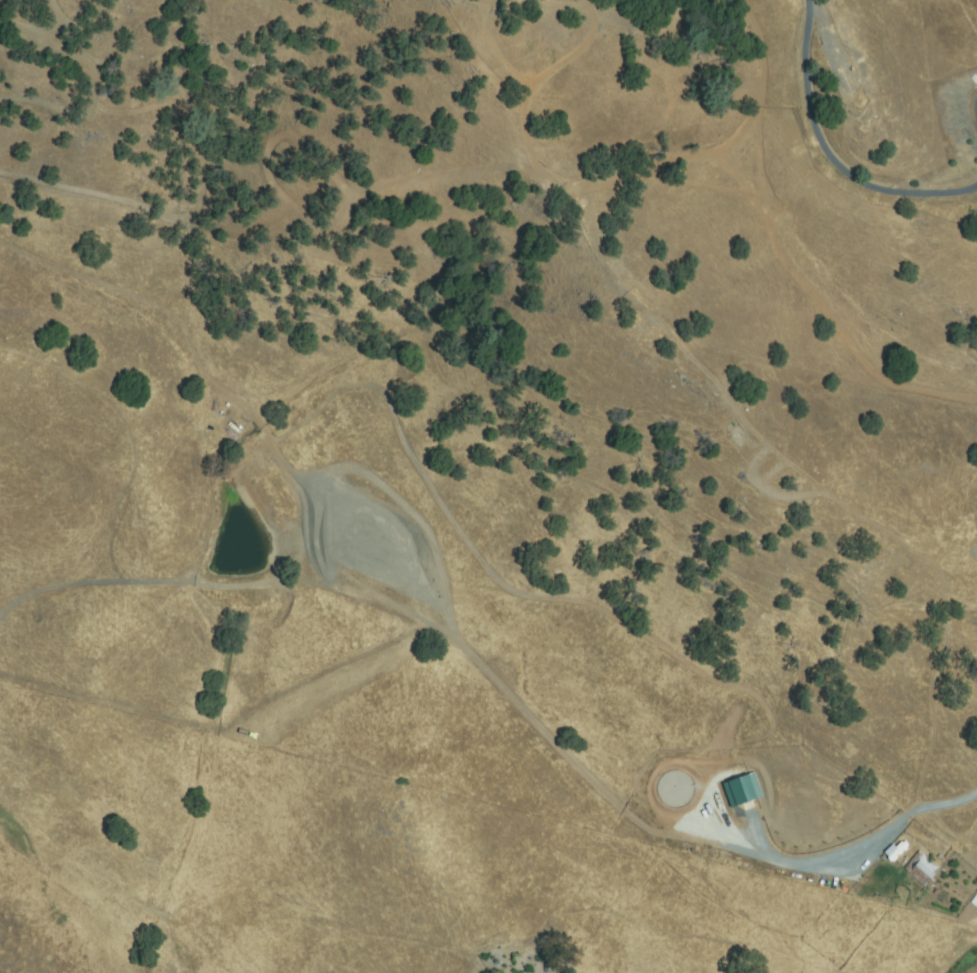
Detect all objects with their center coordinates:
road: (969, 113)
road: (825, 156)
building: (922, 870)

